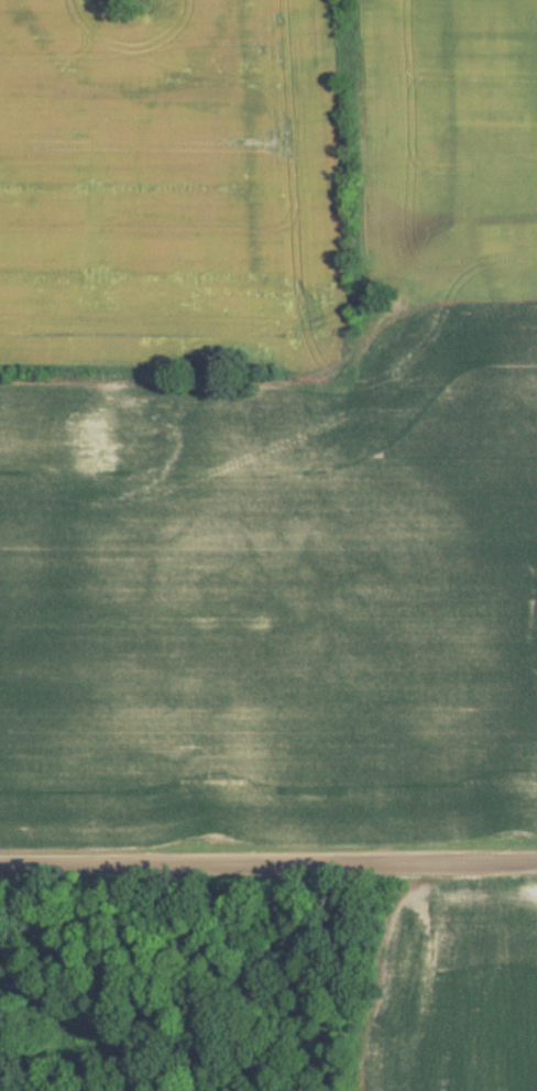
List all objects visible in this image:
road: (267, 860)

